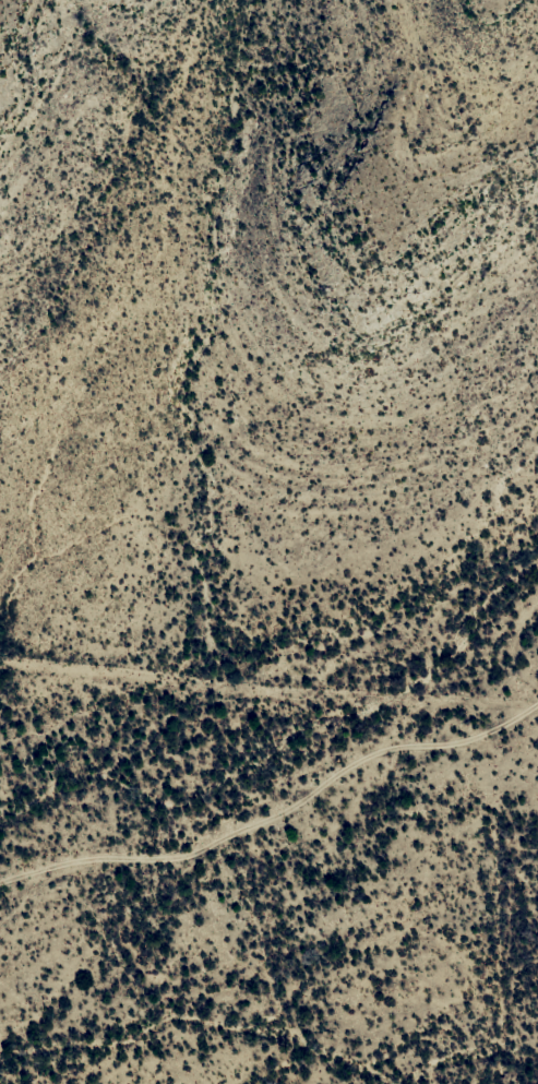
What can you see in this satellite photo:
road: (276, 813)

